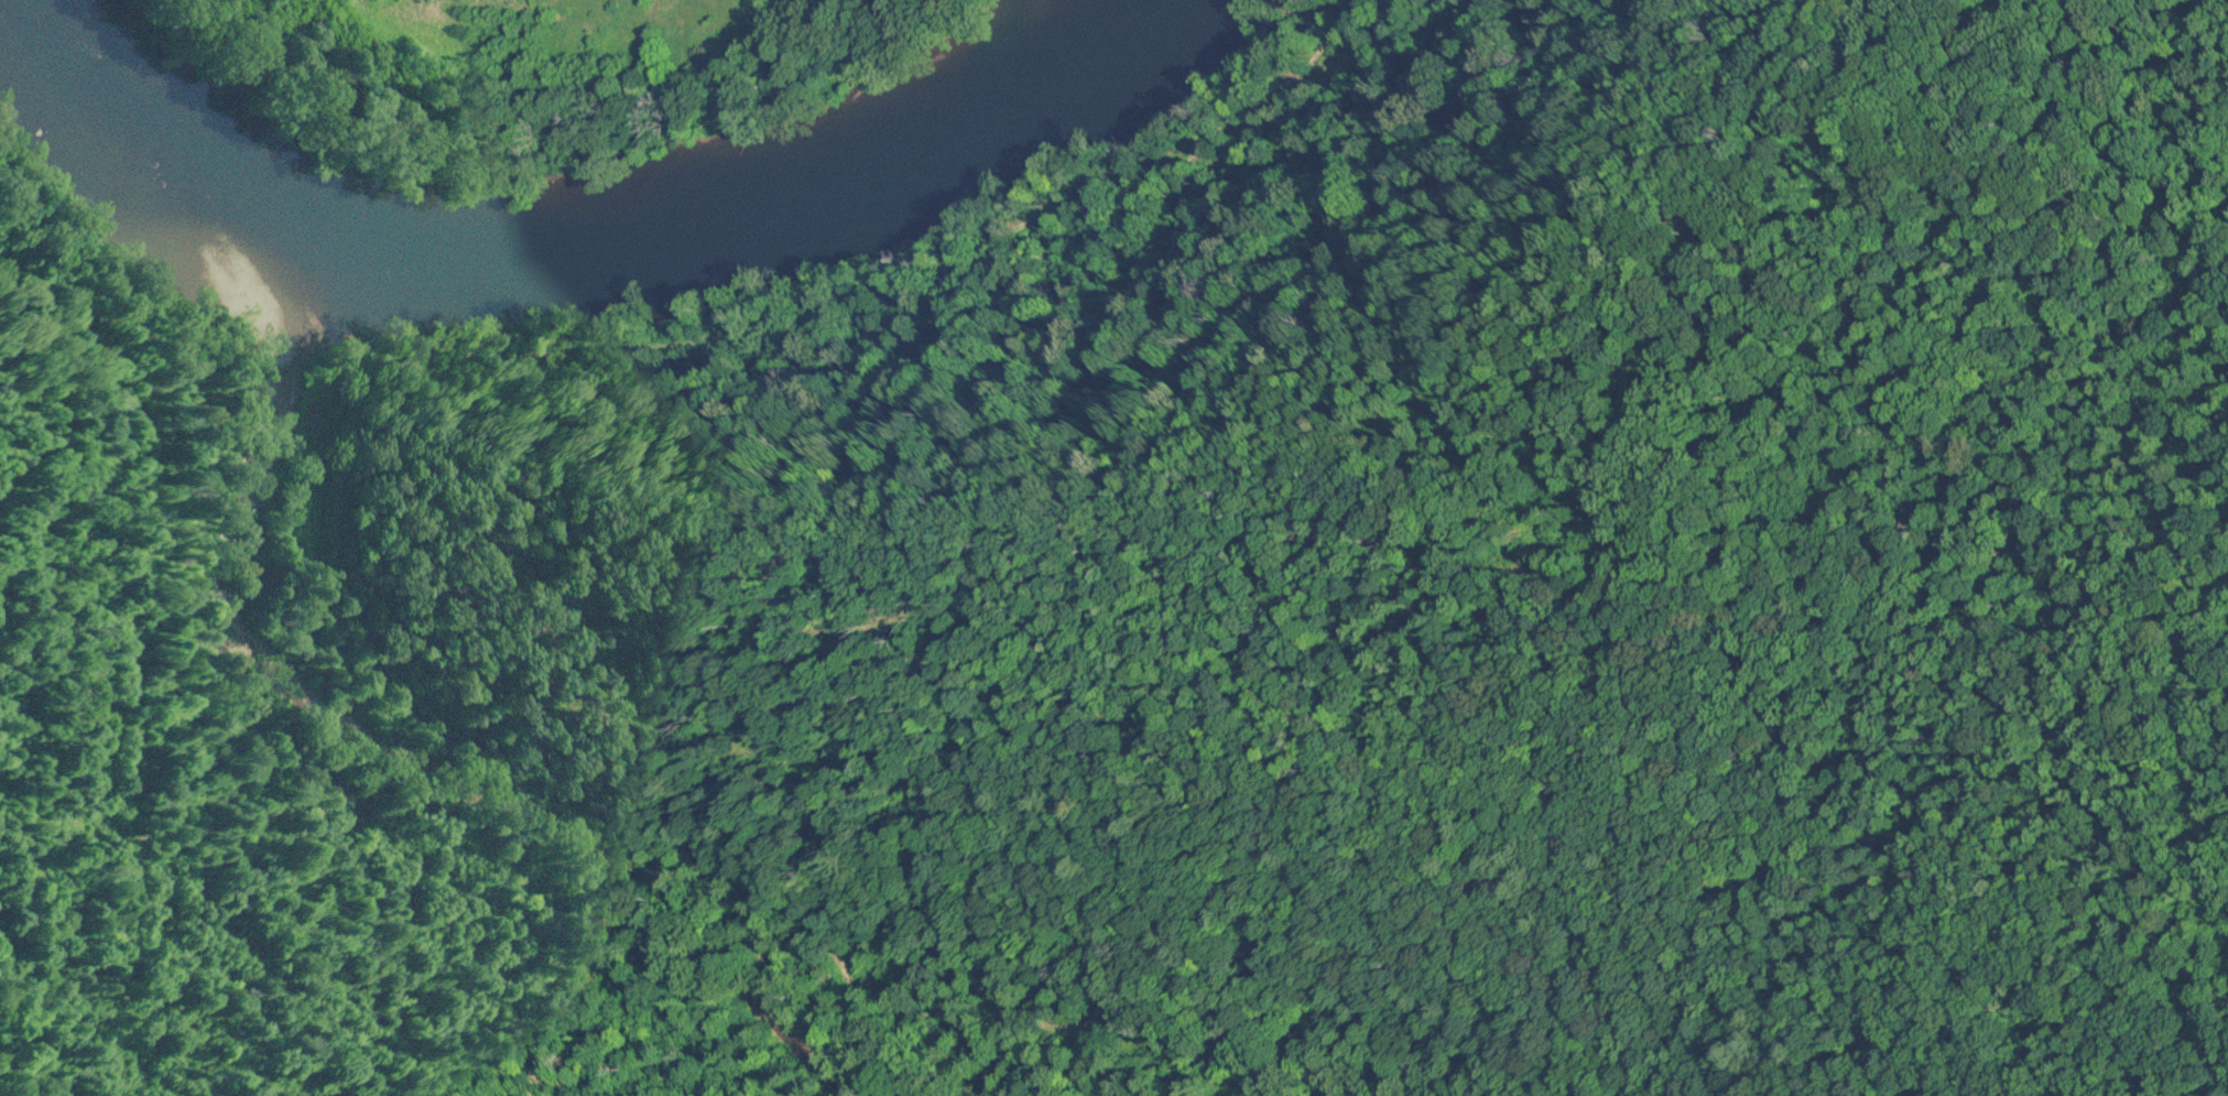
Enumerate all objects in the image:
river: (536, 209)

